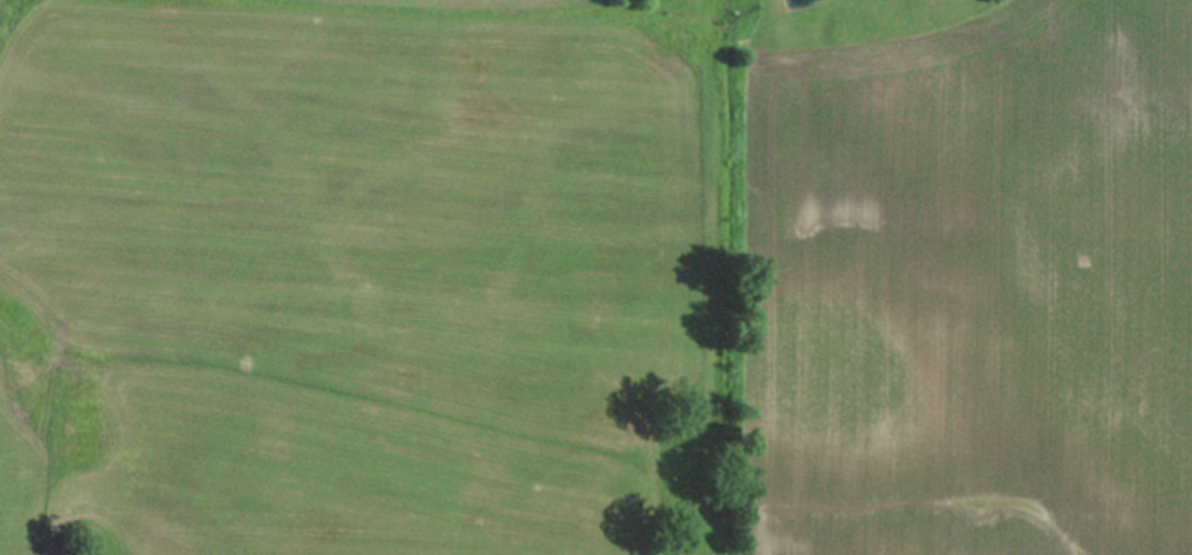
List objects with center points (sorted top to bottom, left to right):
building: (499, 4)

